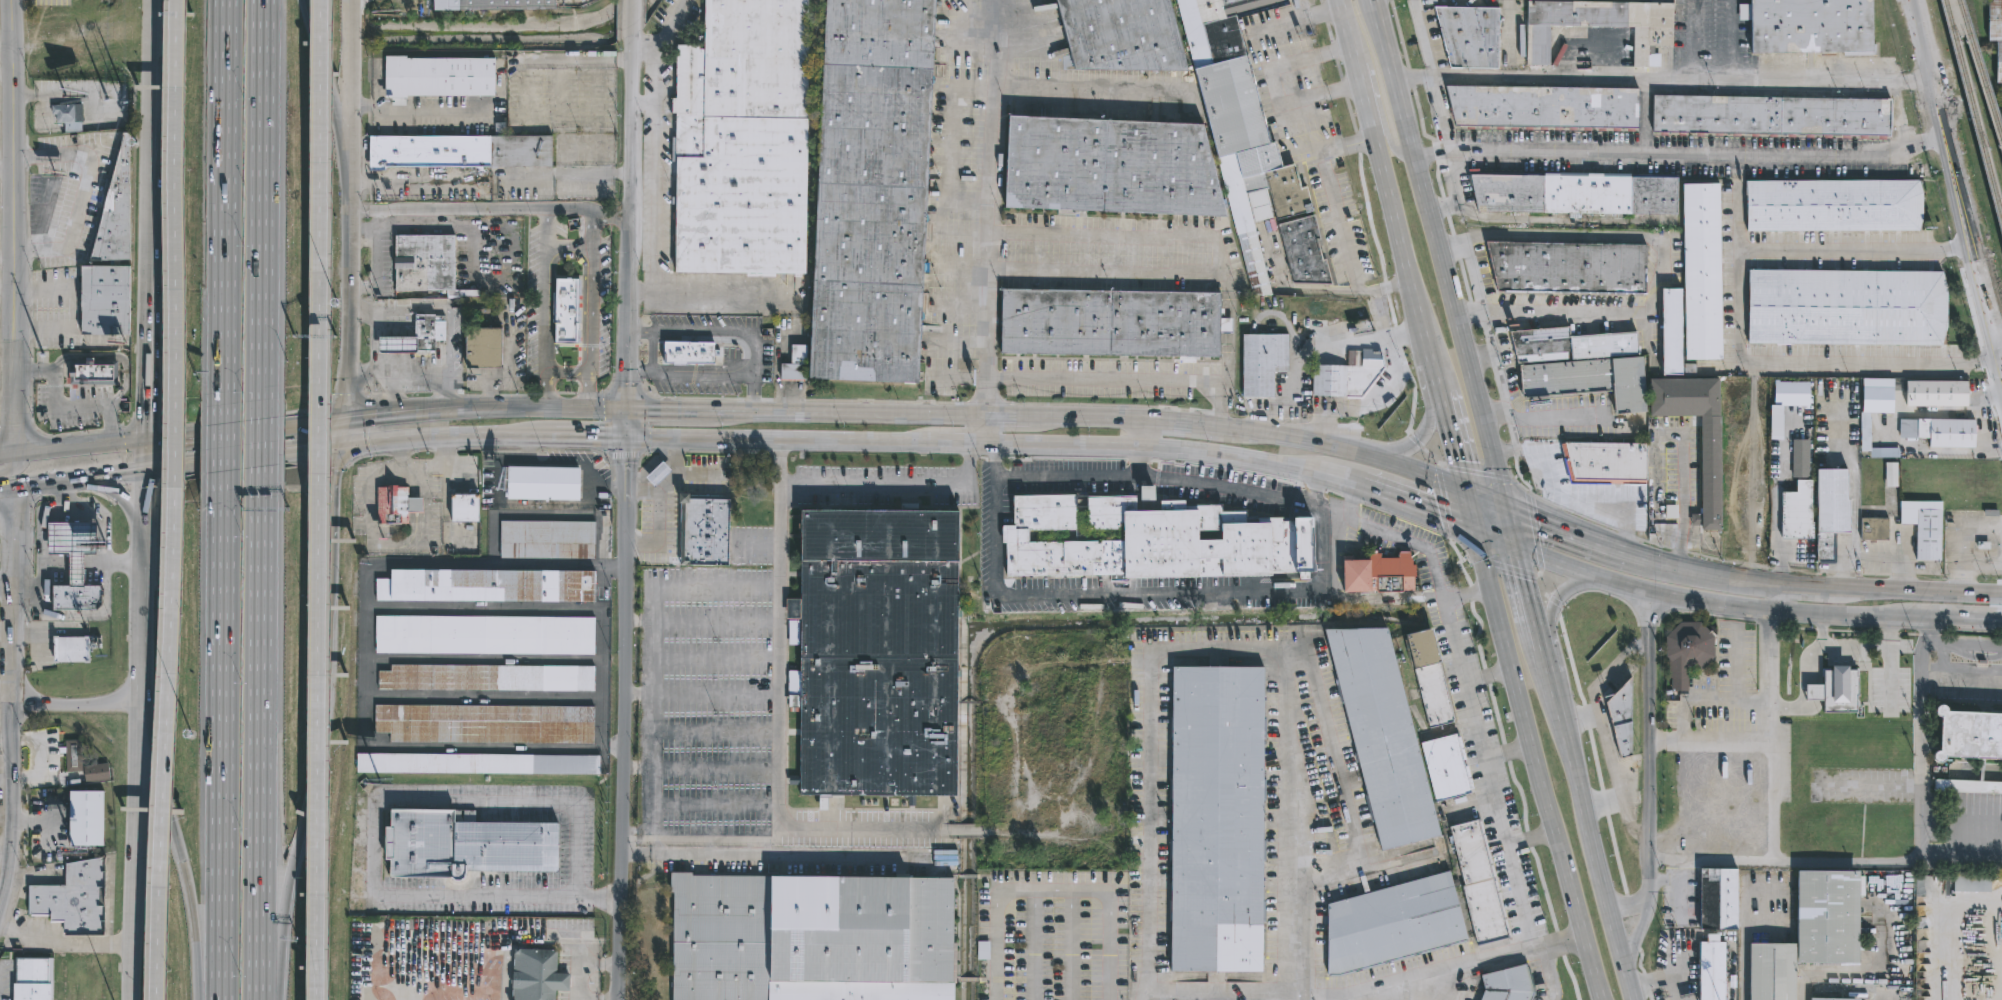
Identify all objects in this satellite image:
building: (486, 4)
road: (633, 18)
road: (311, 25)
building: (1599, 26)
building: (1805, 27)
building: (1119, 36)
building: (1994, 36)
road: (173, 37)
building: (1460, 38)
road: (1692, 38)
road: (1731, 38)
road: (652, 46)
road: (641, 50)
road: (4, 51)
road: (352, 52)
road: (1324, 56)
road: (4, 68)
building: (1225, 69)
railway: (1981, 71)
road: (1663, 77)
building: (440, 78)
road: (148, 82)
road: (560, 86)
road: (1374, 89)
power tower: (112, 90)
road: (1334, 91)
road: (1085, 93)
road: (335, 96)
road: (39, 97)
road: (499, 97)
road: (77, 99)
building: (1543, 106)
railway: (1974, 111)
building: (69, 115)
road: (1644, 115)
building: (1770, 115)
road: (160, 119)
road: (351, 124)
building: (741, 139)
road: (1348, 147)
building: (461, 149)
road: (1683, 153)
road: (4, 163)
building: (1109, 164)
road: (1956, 172)
road: (1330, 184)
road: (410, 185)
road: (79, 187)
building: (871, 189)
road: (1453, 193)
building: (1570, 193)
road: (1388, 197)
road: (262, 200)
building: (1260, 200)
road: (653, 201)
road: (1738, 201)
road: (224, 202)
building: (1830, 204)
road: (984, 206)
road: (1429, 210)
building: (117, 211)
road: (447, 211)
road: (569, 212)
road: (611, 218)
road: (1557, 218)
road: (631, 222)
road: (9, 225)
road: (591, 232)
road: (149, 240)
road: (567, 249)
building: (1303, 251)
road: (5, 257)
building: (428, 261)
road: (1226, 261)
road: (1656, 261)
road: (382, 262)
building: (1568, 269)
building: (1701, 270)
road: (1473, 273)
road: (1393, 286)
road: (5, 288)
road: (544, 291)
road: (729, 296)
road: (350, 298)
building: (106, 299)
building: (1843, 306)
building: (568, 310)
road: (445, 312)
building: (1335, 312)
road: (1738, 317)
building: (1111, 322)
building: (426, 330)
building: (1670, 331)
road: (587, 332)
building: (397, 344)
road: (2001, 345)
building: (486, 347)
road: (2001, 348)
power tower: (41, 350)
building: (686, 352)
road: (1481, 357)
road: (751, 359)
road: (1495, 360)
building: (1262, 362)
building: (793, 364)
road: (1293, 365)
building: (1581, 366)
building: (94, 372)
road: (370, 373)
road: (420, 373)
building: (1347, 377)
road: (145, 378)
road: (1122, 380)
road: (545, 390)
road: (585, 390)
road: (626, 390)
building: (1933, 392)
road: (393, 393)
road: (751, 394)
building: (1877, 395)
building: (1784, 403)
road: (1369, 405)
road: (484, 407)
traffic signals: (628, 407)
road: (671, 407)
road: (59, 409)
road: (849, 411)
road: (1009, 413)
road: (1090, 415)
traffic signals: (342, 418)
road: (1170, 418)
road: (1497, 418)
road: (1556, 419)
road: (320, 420)
road: (627, 423)
road: (645, 423)
road: (1432, 426)
road: (986, 429)
road: (221, 431)
building: (1944, 431)
road: (1511, 432)
road: (1146, 434)
road: (1290, 436)
road: (577, 438)
road: (1490, 439)
traffic signals: (144, 440)
traffic signals: (627, 440)
road: (429, 441)
road: (770, 442)
road: (262, 443)
road: (1452, 443)
road: (78, 444)
road: (951, 445)
road: (224, 447)
traffic signals: (330, 452)
road: (1178, 452)
road: (6, 453)
road: (1506, 454)
road: (446, 455)
road: (624, 457)
road: (144, 458)
building: (1800, 458)
road: (992, 460)
traffic signals: (1457, 461)
building: (1604, 462)
road: (1144, 463)
road: (9, 464)
road: (237, 464)
building: (1710, 464)
road: (779, 467)
road: (444, 469)
road: (1478, 473)
road: (370, 474)
road: (707, 474)
traffic signals: (145, 476)
road: (1155, 476)
road: (1425, 476)
building: (1891, 476)
road: (110, 479)
road: (1501, 482)
building: (543, 483)
road: (42, 487)
road: (895, 490)
road: (4, 491)
road: (643, 491)
road: (1314, 492)
road: (1854, 498)
road: (320, 499)
road: (1486, 499)
road: (124, 500)
road: (175, 500)
road: (1576, 500)
building: (1081, 501)
road: (1444, 502)
road: (1775, 502)
road: (329, 503)
building: (397, 506)
building: (462, 507)
road: (1683, 507)
road: (661, 509)
building: (1107, 511)
building: (1830, 511)
building: (1044, 512)
building: (1794, 512)
road: (1470, 514)
building: (703, 515)
road: (1419, 515)
building: (1733, 517)
traffic signals: (1538, 520)
road: (59, 523)
traffic signals: (1440, 523)
road: (425, 526)
road: (1511, 526)
building: (1922, 526)
road: (1534, 528)
building: (1875, 529)
road: (1574, 536)
building: (549, 539)
road: (1495, 540)
building: (1203, 542)
road: (1961, 542)
building: (75, 545)
gas station: (75, 545)
building: (703, 549)
road: (1457, 554)
road: (1904, 554)
road: (1874, 555)
building: (1059, 556)
road: (67, 562)
road: (1981, 562)
road: (1504, 566)
road: (1694, 572)
building: (1377, 574)
traffic signals: (1524, 580)
building: (490, 585)
road: (6, 586)
road: (12, 591)
road: (143, 592)
road: (1873, 592)
road: (707, 593)
road: (1137, 594)
road: (1324, 595)
road: (1546, 595)
building: (77, 597)
road: (1357, 598)
road: (1804, 599)
road: (1717, 606)
road: (1531, 608)
road: (1551, 611)
road: (701, 621)
road: (1965, 625)
road: (1646, 626)
road: (1824, 631)
building: (487, 634)
road: (1929, 634)
building: (72, 649)
building: (877, 652)
building: (1687, 652)
road: (1280, 666)
building: (489, 677)
road: (1487, 677)
building: (1429, 678)
road: (1549, 680)
road: (1961, 681)
building: (1835, 689)
road: (1465, 691)
road: (700, 693)
road: (7, 694)
road: (15, 699)
road: (327, 699)
road: (77, 707)
road: (1919, 713)
building: (1619, 718)
road: (15, 720)
road: (622, 720)
building: (487, 724)
building: (1969, 733)
road: (7, 735)
road: (146, 735)
building: (1382, 735)
road: (1773, 741)
road: (260, 743)
road: (1647, 744)
road: (222, 745)
road: (777, 746)
road: (1507, 753)
building: (73, 755)
road: (1595, 755)
road: (137, 761)
road: (7, 762)
building: (478, 763)
building: (1446, 767)
road: (1537, 767)
building: (98, 773)
road: (1514, 779)
road: (1343, 780)
building: (1967, 786)
road: (1773, 804)
building: (1217, 817)
road: (13, 820)
road: (858, 827)
road: (375, 828)
road: (1530, 839)
road: (1591, 845)
building: (466, 846)
road: (177, 851)
road: (1823, 861)
road: (3, 871)
building: (1478, 882)
road: (1053, 890)
building: (74, 899)
building: (1717, 899)
road: (1627, 902)
road: (130, 906)
road: (278, 920)
building: (1397, 923)
road: (1637, 926)
building: (1810, 933)
road: (480, 937)
building: (812, 937)
road: (63, 948)
road: (1539, 952)
road: (1489, 961)
road: (1744, 966)
building: (1712, 967)
road: (200, 971)
building: (534, 974)
building: (33, 978)
road: (1379, 980)
road: (1664, 980)
road: (581, 982)
building: (1507, 983)
road: (1141, 994)
building: (1832, 998)

